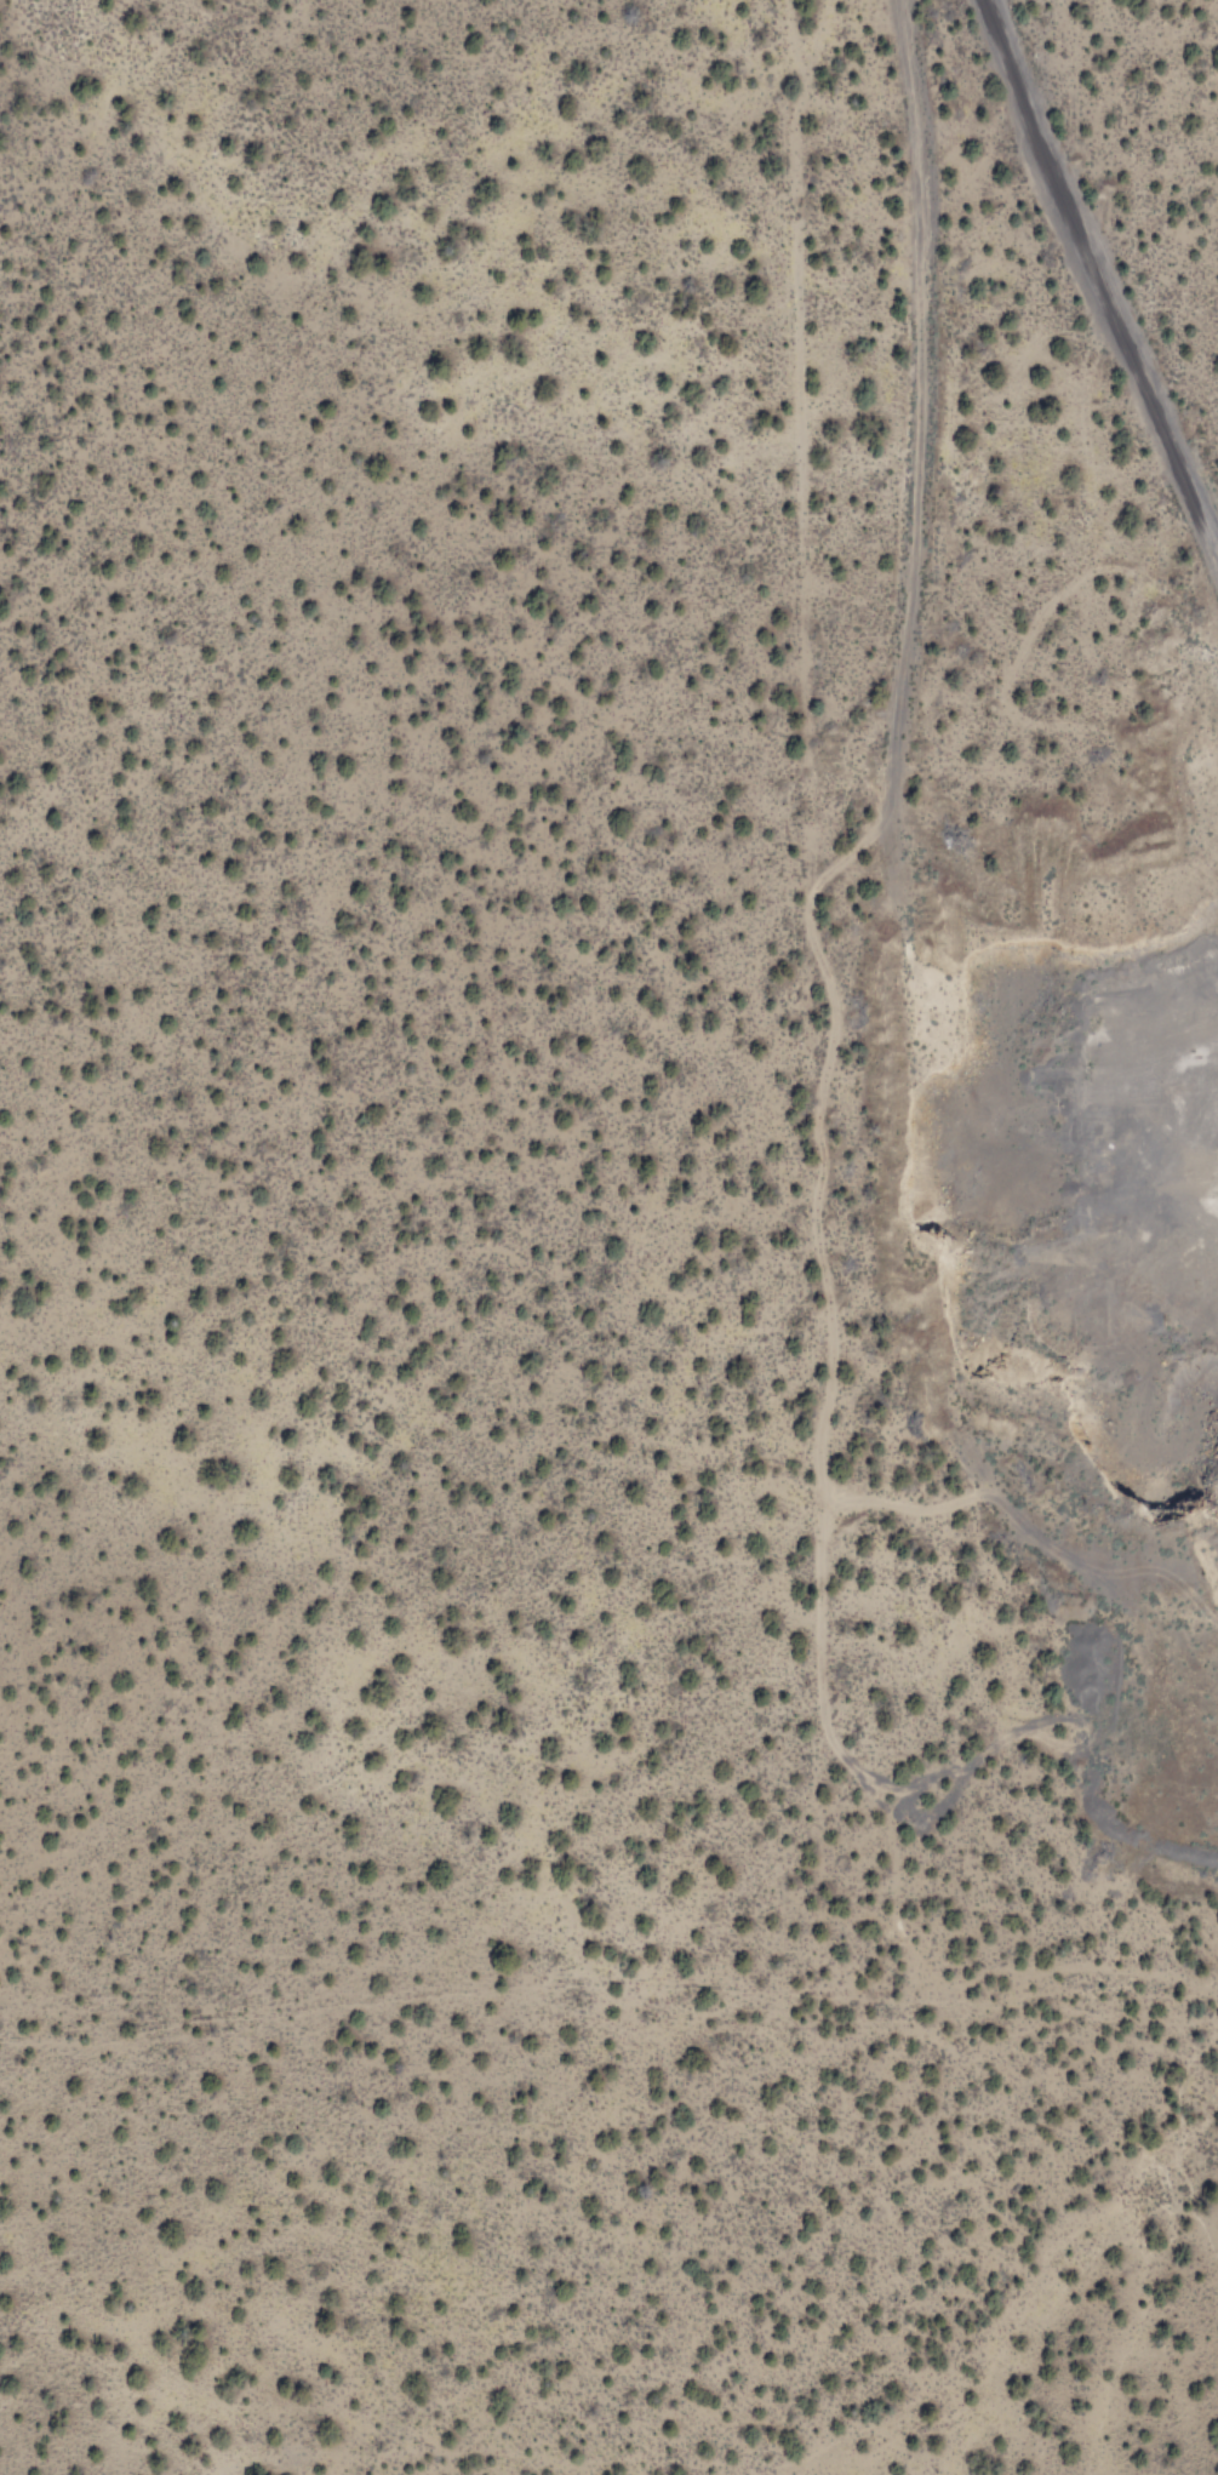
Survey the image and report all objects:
road: (1102, 262)
quarry: (1076, 1269)

